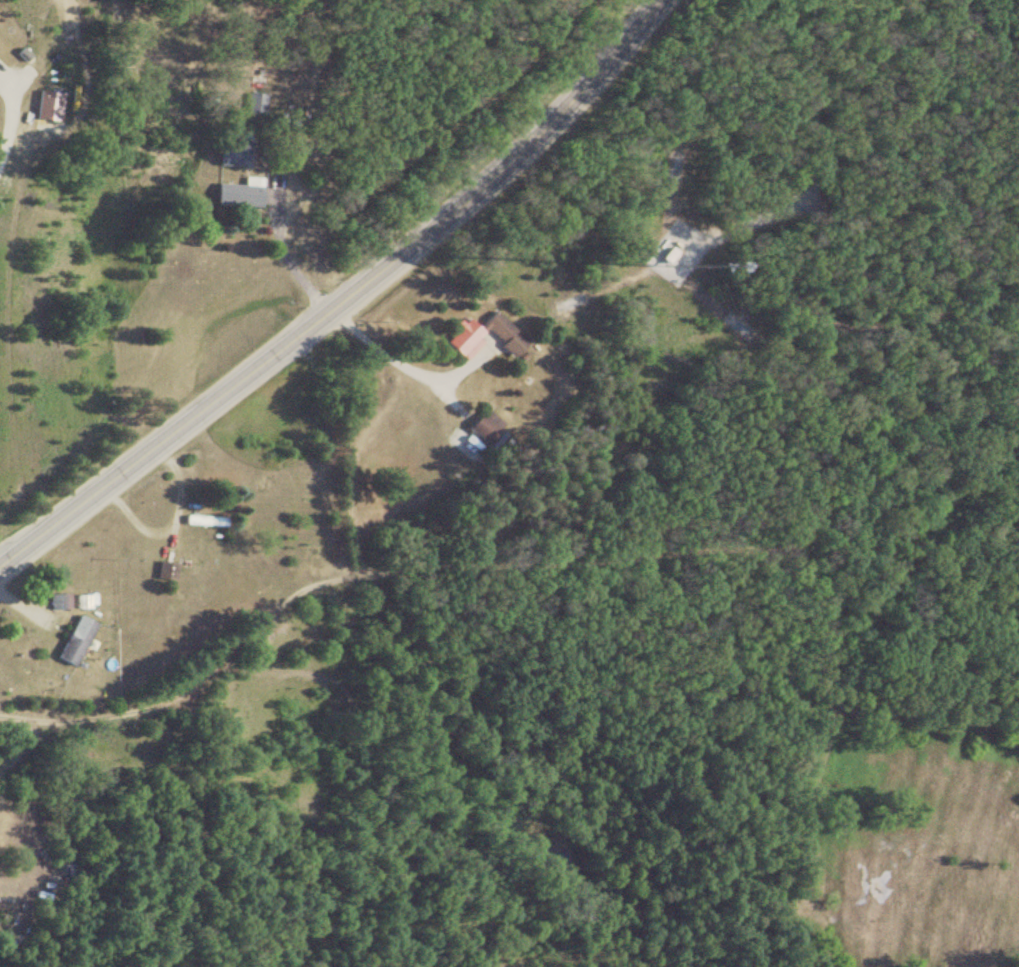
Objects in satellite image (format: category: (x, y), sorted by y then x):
building: (248, 102)
building: (40, 107)
road: (15, 113)
building: (231, 194)
road: (761, 214)
road: (277, 236)
building: (660, 258)
road: (817, 270)
road: (343, 297)
road: (918, 311)
building: (481, 337)
road: (381, 347)
building: (479, 429)
road: (377, 570)
building: (158, 571)
building: (52, 602)
building: (67, 641)

